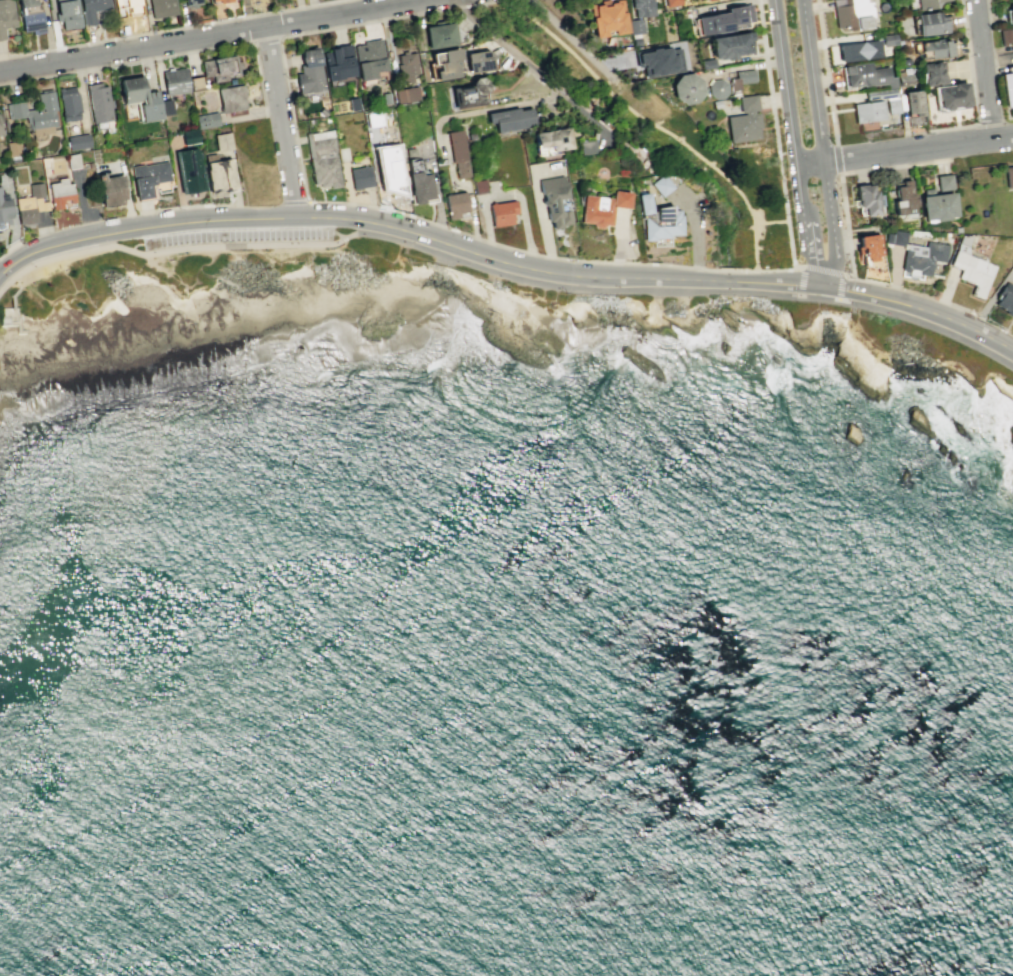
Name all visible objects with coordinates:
building: (214, 0)
building: (221, 0)
building: (704, 0)
building: (191, 2)
building: (671, 2)
road: (483, 3)
building: (925, 3)
road: (460, 6)
building: (127, 7)
building: (161, 7)
building: (642, 7)
building: (92, 9)
building: (67, 13)
building: (852, 13)
building: (1009, 13)
building: (5, 16)
building: (30, 16)
building: (607, 17)
building: (724, 19)
building: (931, 23)
building: (635, 25)
road: (168, 28)
road: (208, 34)
building: (457, 34)
building: (440, 35)
building: (1005, 35)
road: (572, 39)
building: (888, 39)
building: (730, 45)
building: (936, 48)
building: (857, 50)
building: (368, 58)
building: (480, 60)
building: (659, 60)
building: (338, 61)
building: (902, 61)
building: (445, 62)
building: (707, 63)
building: (221, 67)
building: (406, 67)
road: (531, 67)
road: (982, 70)
building: (309, 71)
road: (825, 71)
building: (931, 73)
building: (866, 75)
building: (903, 77)
building: (741, 78)
building: (174, 81)
road: (972, 85)
building: (1007, 86)
building: (686, 88)
building: (717, 88)
building: (406, 94)
building: (469, 94)
building: (950, 96)
building: (140, 97)
building: (385, 97)
building: (231, 98)
building: (884, 98)
road: (789, 100)
building: (912, 101)
building: (98, 102)
building: (68, 103)
building: (352, 103)
building: (166, 107)
road: (772, 111)
building: (867, 111)
road: (633, 113)
building: (36, 114)
building: (510, 118)
building: (206, 119)
road: (281, 119)
building: (374, 119)
building: (744, 120)
park: (639, 125)
building: (0, 131)
road: (820, 135)
building: (189, 136)
building: (553, 138)
building: (77, 141)
building: (222, 141)
road: (938, 145)
building: (588, 146)
building: (12, 148)
road: (905, 150)
building: (458, 152)
road: (836, 157)
building: (322, 158)
building: (72, 160)
building: (389, 168)
building: (189, 170)
road: (840, 174)
building: (220, 175)
building: (360, 176)
building: (1009, 176)
building: (148, 177)
building: (661, 185)
building: (419, 186)
building: (479, 186)
building: (110, 189)
building: (60, 192)
building: (619, 198)
building: (553, 199)
building: (867, 199)
building: (904, 200)
building: (938, 200)
road: (293, 201)
building: (30, 204)
building: (455, 204)
road: (182, 206)
building: (4, 209)
building: (596, 210)
road: (402, 211)
building: (502, 212)
building: (658, 219)
road: (771, 222)
road: (807, 234)
parking lot: (239, 235)
building: (869, 246)
road: (9, 248)
road: (755, 252)
building: (916, 252)
road: (505, 261)
building: (1012, 266)
road: (797, 267)
road: (807, 267)
road: (821, 269)
building: (972, 271)
road: (837, 272)
road: (816, 276)
road: (503, 277)
road: (824, 278)
road: (800, 280)
road: (840, 286)
road: (914, 291)
building: (1005, 300)
park: (45, 301)
park: (931, 348)
park: (1011, 406)

